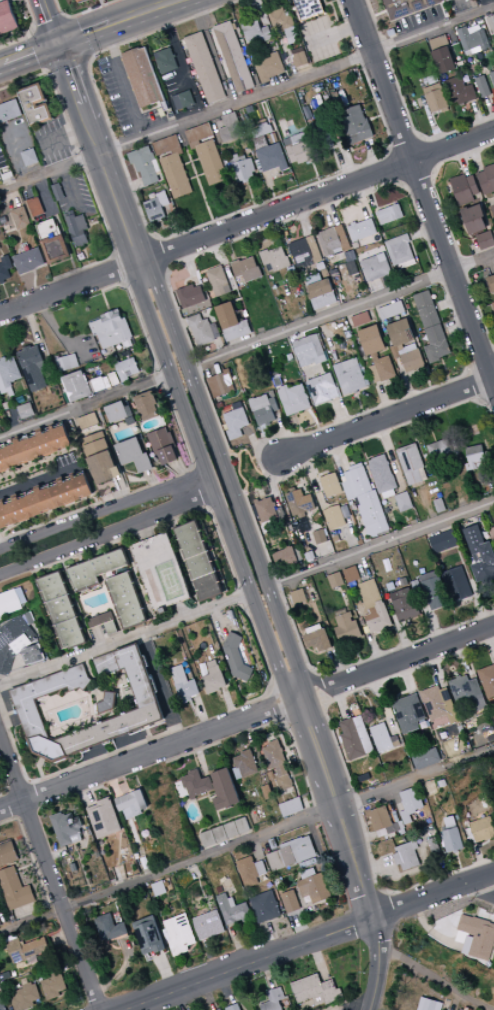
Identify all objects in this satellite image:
road: (177, 0)
building: (444, 0)
building: (447, 0)
building: (79, 1)
road: (100, 3)
road: (284, 5)
building: (406, 7)
building: (309, 8)
road: (260, 12)
road: (82, 13)
building: (287, 13)
road: (202, 14)
building: (7, 18)
road: (64, 18)
building: (280, 19)
road: (49, 22)
building: (491, 23)
road: (50, 27)
building: (251, 29)
road: (30, 32)
road: (34, 32)
building: (290, 32)
road: (90, 33)
building: (266, 33)
road: (334, 34)
road: (450, 34)
road: (173, 35)
road: (12, 37)
road: (74, 39)
building: (465, 39)
building: (292, 40)
building: (482, 40)
building: (438, 43)
traffic signals: (59, 45)
building: (476, 45)
building: (297, 51)
road: (43, 54)
building: (233, 57)
road: (88, 59)
building: (299, 59)
building: (165, 60)
building: (443, 60)
building: (247, 61)
road: (67, 66)
building: (268, 66)
building: (205, 68)
road: (48, 76)
building: (435, 77)
building: (492, 77)
building: (143, 78)
building: (431, 79)
building: (425, 81)
road: (123, 82)
building: (482, 86)
road: (132, 88)
building: (227, 88)
building: (459, 91)
building: (435, 97)
road: (246, 99)
building: (183, 100)
building: (38, 104)
road: (404, 106)
road: (490, 107)
building: (250, 109)
building: (444, 110)
building: (10, 111)
road: (435, 113)
building: (170, 114)
road: (477, 117)
road: (375, 118)
road: (431, 121)
building: (355, 124)
building: (230, 127)
building: (262, 131)
building: (325, 132)
road: (401, 134)
building: (199, 135)
road: (65, 138)
building: (272, 138)
road: (420, 141)
building: (260, 143)
building: (245, 144)
building: (167, 146)
road: (184, 146)
building: (300, 148)
road: (333, 148)
road: (407, 149)
road: (392, 151)
road: (99, 153)
road: (13, 155)
road: (372, 156)
building: (30, 157)
building: (271, 157)
building: (236, 158)
road: (337, 160)
road: (347, 160)
road: (191, 161)
building: (226, 161)
building: (316, 161)
building: (211, 162)
building: (144, 164)
road: (400, 165)
building: (156, 167)
building: (243, 170)
road: (85, 172)
road: (137, 173)
road: (195, 173)
road: (316, 173)
building: (176, 175)
road: (196, 177)
building: (486, 180)
road: (402, 181)
road: (249, 182)
road: (382, 185)
road: (270, 186)
road: (127, 187)
road: (338, 187)
building: (464, 188)
road: (71, 189)
building: (158, 190)
building: (58, 192)
road: (368, 192)
road: (48, 194)
road: (251, 194)
road: (12, 197)
building: (163, 198)
road: (362, 200)
road: (384, 206)
building: (36, 207)
building: (154, 209)
road: (331, 209)
building: (492, 209)
road: (348, 210)
building: (390, 213)
building: (21, 218)
road: (302, 220)
building: (473, 220)
road: (95, 223)
building: (370, 225)
road: (174, 226)
building: (77, 228)
building: (49, 229)
road: (164, 229)
road: (184, 232)
building: (355, 232)
road: (422, 232)
road: (270, 238)
building: (342, 238)
road: (154, 240)
road: (264, 241)
building: (328, 241)
building: (484, 241)
road: (19, 242)
road: (181, 246)
road: (412, 246)
building: (57, 249)
building: (313, 249)
building: (399, 249)
road: (134, 250)
road: (218, 250)
building: (300, 252)
road: (159, 254)
road: (158, 255)
road: (234, 255)
building: (349, 255)
road: (114, 256)
road: (86, 257)
building: (275, 258)
building: (30, 261)
road: (473, 261)
building: (406, 264)
road: (190, 265)
building: (355, 267)
building: (374, 268)
building: (5, 269)
road: (166, 269)
building: (246, 269)
road: (122, 271)
road: (145, 274)
building: (230, 277)
building: (218, 281)
building: (490, 284)
road: (34, 285)
road: (386, 286)
road: (68, 288)
building: (321, 294)
building: (190, 296)
building: (422, 299)
road: (103, 300)
road: (448, 302)
building: (493, 305)
building: (391, 309)
building: (226, 316)
building: (428, 316)
road: (320, 317)
building: (360, 319)
road: (350, 321)
road: (50, 322)
road: (31, 323)
road: (457, 324)
road: (473, 326)
building: (111, 329)
building: (200, 330)
building: (214, 330)
building: (237, 331)
building: (400, 332)
road: (327, 340)
building: (370, 340)
building: (127, 343)
building: (435, 344)
road: (220, 346)
building: (310, 350)
building: (394, 352)
building: (411, 360)
building: (66, 362)
building: (32, 367)
road: (158, 367)
building: (127, 369)
building: (381, 369)
road: (445, 369)
road: (422, 370)
building: (9, 371)
building: (276, 376)
building: (349, 376)
building: (97, 378)
building: (114, 379)
building: (107, 382)
road: (406, 382)
building: (221, 383)
building: (98, 385)
building: (77, 386)
building: (322, 389)
building: (5, 390)
building: (283, 394)
road: (357, 396)
road: (384, 399)
building: (296, 400)
road: (67, 402)
building: (259, 403)
building: (273, 404)
road: (85, 405)
building: (147, 406)
building: (127, 410)
building: (25, 411)
building: (115, 412)
road: (314, 415)
building: (264, 416)
road: (387, 417)
road: (9, 418)
road: (343, 418)
building: (87, 421)
building: (129, 421)
building: (236, 422)
road: (301, 430)
road: (283, 432)
building: (95, 438)
building: (160, 440)
building: (34, 446)
road: (259, 446)
building: (98, 448)
building: (439, 450)
street lamp: (234, 452)
building: (132, 455)
building: (166, 456)
road: (257, 457)
building: (475, 458)
road: (41, 461)
road: (252, 461)
road: (223, 462)
road: (25, 465)
building: (411, 465)
building: (102, 468)
building: (114, 473)
road: (183, 475)
building: (381, 475)
road: (209, 478)
road: (41, 479)
road: (152, 481)
building: (330, 485)
road: (200, 487)
building: (105, 489)
road: (124, 490)
street lamp: (248, 493)
building: (44, 499)
building: (364, 500)
building: (403, 502)
building: (299, 504)
building: (268, 511)
road: (46, 513)
road: (48, 513)
road: (93, 514)
building: (333, 518)
road: (49, 519)
road: (50, 520)
road: (97, 537)
building: (319, 537)
building: (442, 542)
road: (381, 545)
building: (149, 552)
building: (480, 554)
building: (284, 559)
building: (198, 561)
building: (95, 569)
building: (350, 575)
building: (335, 580)
building: (456, 584)
building: (52, 585)
building: (149, 586)
building: (433, 591)
building: (297, 597)
building: (126, 600)
building: (11, 601)
building: (404, 605)
building: (373, 607)
building: (62, 610)
building: (102, 622)
building: (346, 629)
building: (70, 634)
road: (125, 638)
building: (317, 640)
building: (20, 645)
road: (409, 654)
building: (234, 657)
building: (211, 676)
road: (311, 676)
road: (298, 678)
building: (487, 681)
building: (184, 684)
road: (298, 693)
building: (466, 695)
building: (107, 703)
building: (26, 705)
building: (438, 707)
building: (407, 714)
road: (250, 734)
building: (354, 738)
road: (232, 739)
building: (383, 739)
road: (291, 747)
road: (193, 752)
road: (149, 753)
road: (200, 756)
road: (288, 759)
building: (425, 759)
building: (245, 763)
building: (277, 764)
building: (237, 773)
road: (299, 775)
road: (416, 777)
road: (4, 783)
road: (112, 783)
road: (127, 785)
building: (211, 787)
road: (7, 791)
road: (88, 792)
building: (266, 792)
road: (205, 797)
road: (313, 799)
building: (279, 800)
road: (211, 802)
road: (12, 804)
building: (131, 804)
road: (337, 806)
building: (291, 807)
road: (216, 811)
building: (377, 812)
building: (103, 818)
road: (17, 819)
building: (242, 825)
building: (66, 828)
building: (231, 830)
building: (481, 830)
building: (220, 834)
building: (207, 838)
building: (451, 841)
building: (432, 846)
road: (120, 849)
road: (140, 849)
building: (301, 849)
road: (255, 850)
building: (8, 854)
road: (56, 856)
building: (406, 856)
road: (32, 858)
building: (280, 859)
road: (25, 867)
building: (260, 868)
road: (194, 869)
road: (168, 871)
building: (248, 872)
building: (307, 874)
road: (50, 875)
road: (122, 877)
road: (482, 886)
building: (158, 888)
building: (314, 888)
building: (16, 889)
road: (432, 894)
building: (3, 896)
building: (289, 902)
building: (264, 907)
building: (233, 910)
road: (350, 910)
road: (355, 924)
building: (208, 925)
road: (300, 927)
building: (109, 928)
building: (178, 934)
building: (148, 936)
road: (60, 937)
building: (477, 937)
building: (11, 938)
road: (268, 938)
road: (238, 944)
building: (28, 949)
road: (212, 957)
road: (318, 960)
road: (378, 963)
road: (245, 964)
road: (121, 971)
road: (165, 972)
road: (267, 973)
road: (360, 974)
road: (435, 977)
building: (54, 984)
road: (225, 989)
building: (316, 991)
road: (208, 995)
building: (26, 997)
road: (179, 1000)
building: (273, 1000)
road: (458, 1001)
building: (2, 1005)
road: (149, 1005)
building: (428, 1005)
road: (349, 1006)
building: (232, 1007)
road: (376, 1008)
building: (219, 1009)
building: (461, 1009)

